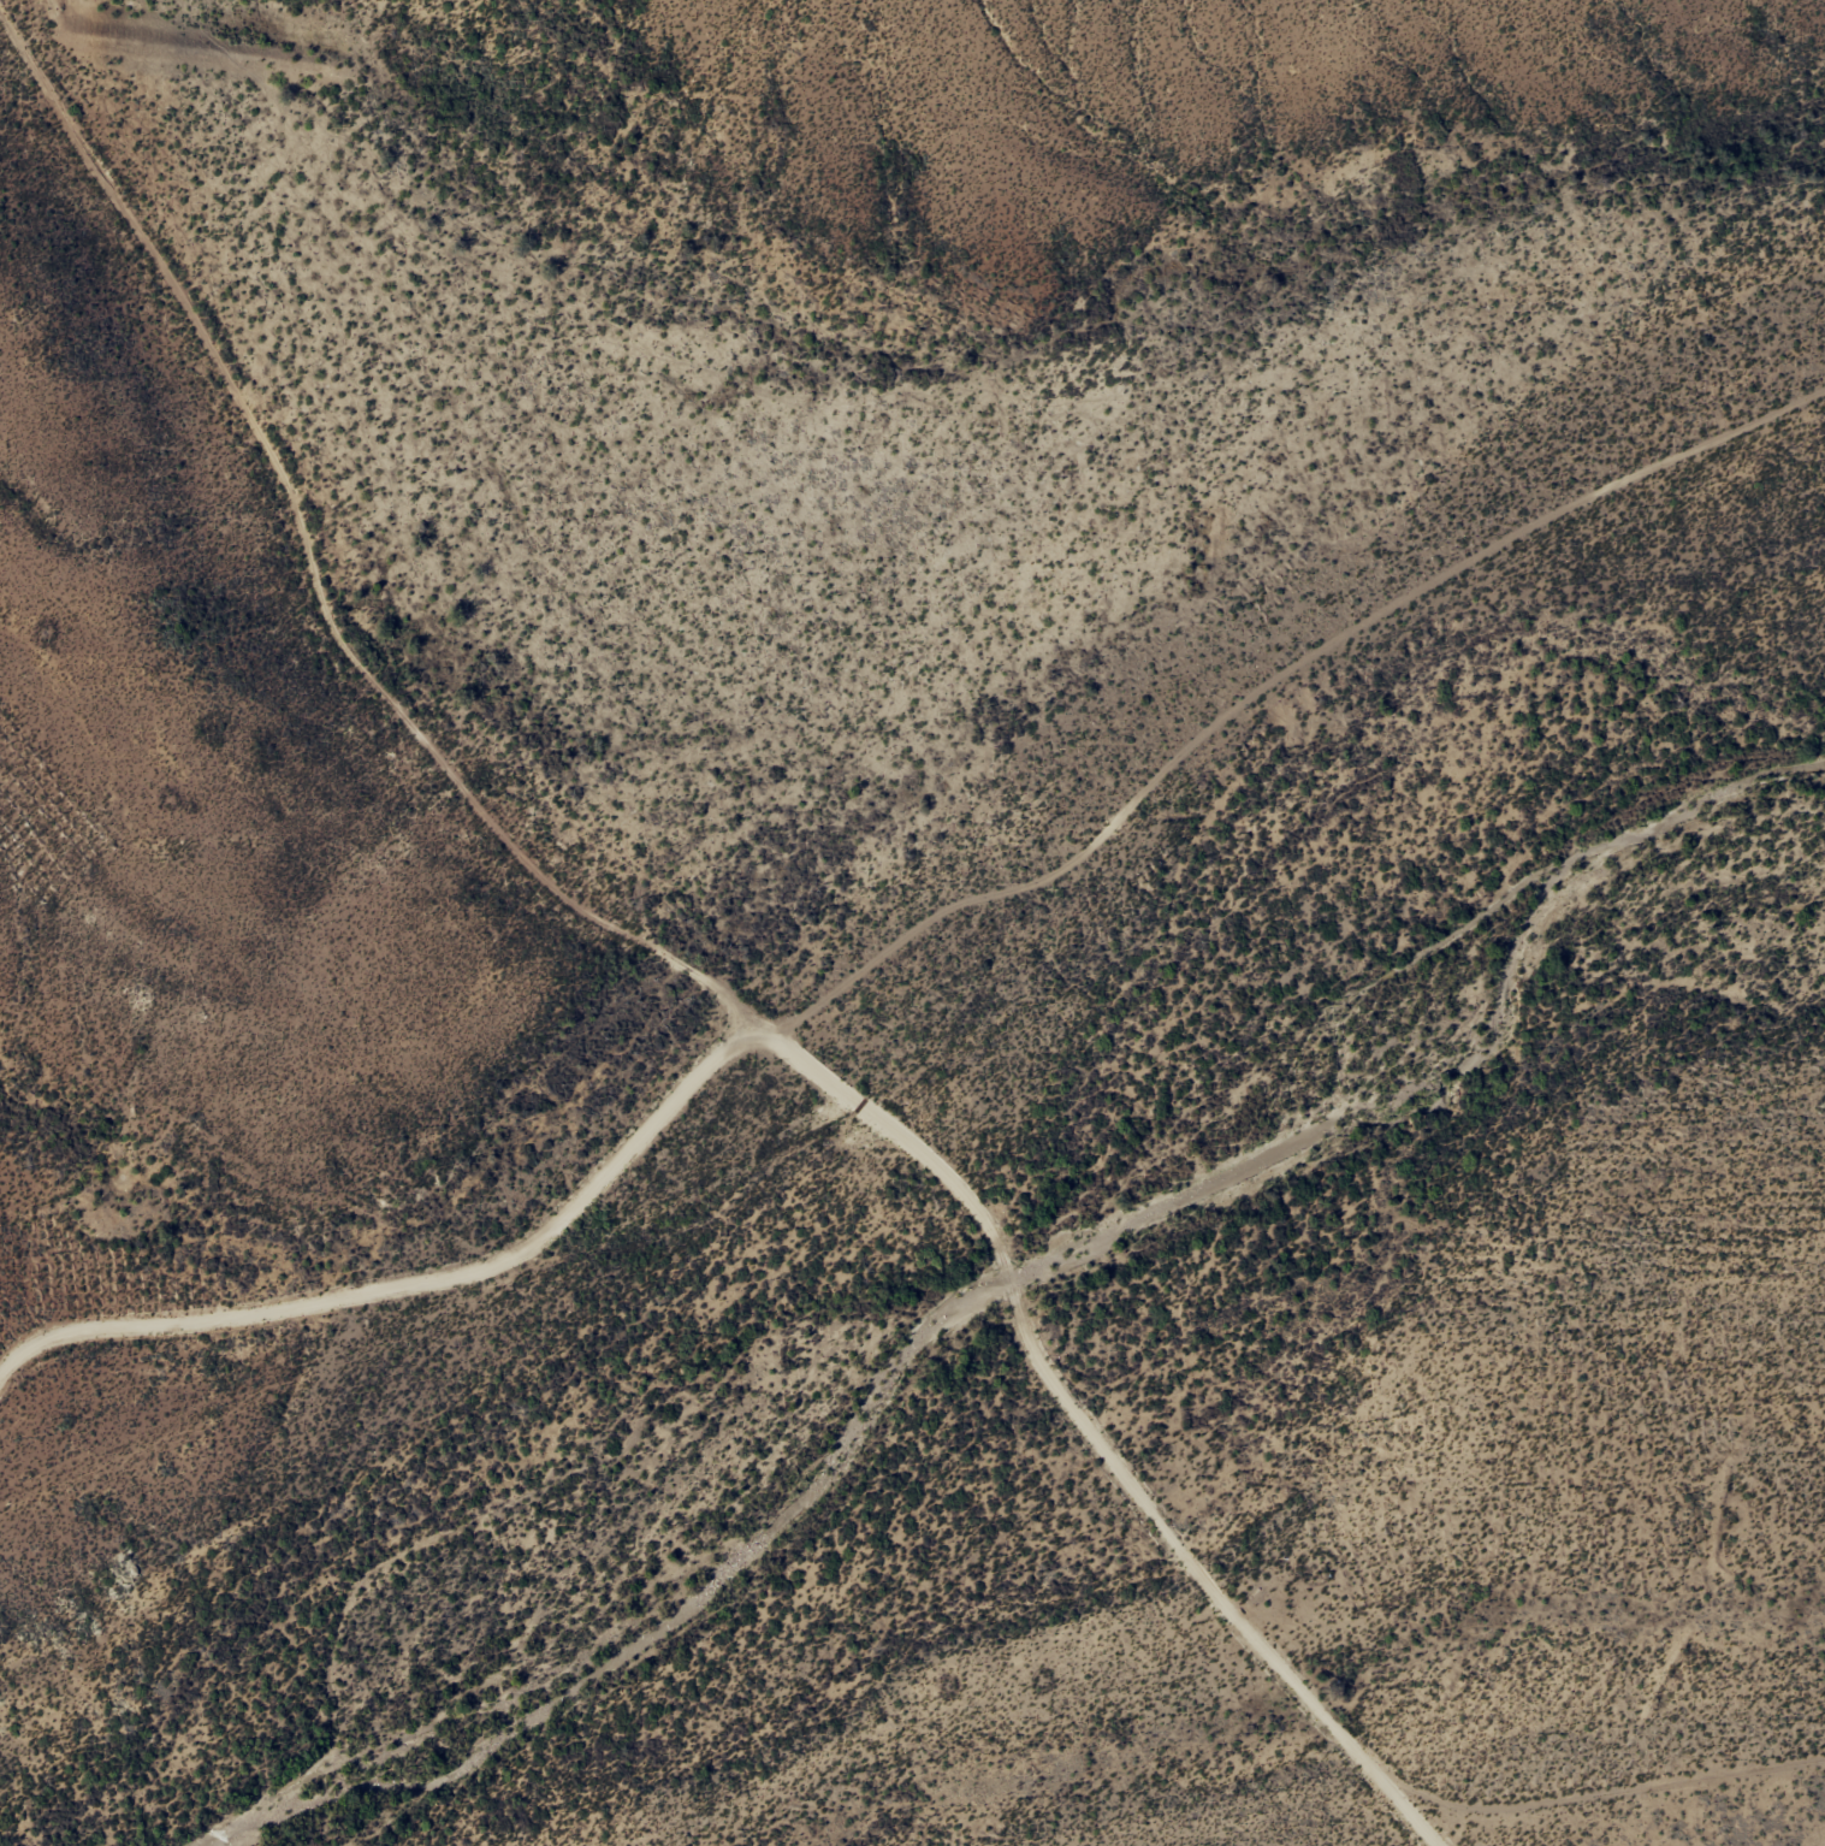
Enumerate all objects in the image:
road: (789, 1004)
road: (474, 1319)

